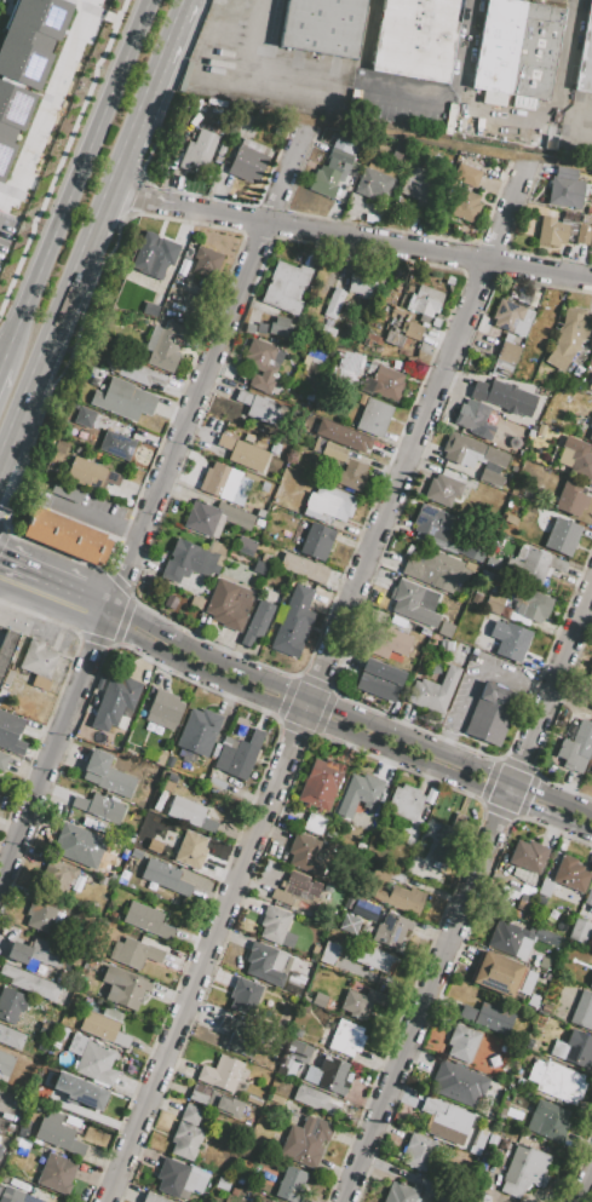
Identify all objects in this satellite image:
parking lot: (553, 1)
building: (322, 27)
road: (139, 29)
building: (30, 36)
building: (397, 36)
building: (436, 39)
road: (465, 44)
building: (495, 50)
building: (535, 51)
road: (255, 54)
building: (585, 54)
street lamp: (98, 67)
parking lot: (265, 82)
road: (361, 82)
road: (44, 102)
parking lot: (400, 109)
road: (571, 110)
building: (12, 114)
road: (548, 114)
parking lot: (498, 121)
parking lot: (575, 125)
parking lot: (53, 133)
building: (539, 138)
street lamp: (58, 140)
building: (197, 149)
road: (62, 154)
building: (395, 156)
building: (248, 160)
building: (331, 169)
building: (466, 176)
building: (374, 183)
road: (151, 185)
building: (420, 185)
building: (565, 189)
road: (110, 195)
road: (131, 195)
road: (142, 203)
building: (466, 206)
road: (269, 207)
road: (65, 212)
building: (569, 218)
building: (586, 219)
street lamp: (35, 224)
road: (377, 226)
building: (551, 230)
building: (582, 235)
road: (257, 236)
road: (383, 245)
road: (492, 246)
road: (507, 246)
building: (154, 255)
building: (206, 261)
road: (477, 275)
building: (358, 282)
building: (284, 287)
road: (217, 298)
building: (425, 301)
building: (333, 304)
building: (150, 309)
building: (511, 317)
building: (483, 324)
building: (277, 327)
building: (413, 330)
building: (326, 333)
building: (568, 337)
building: (163, 346)
building: (506, 353)
building: (259, 363)
building: (349, 363)
road: (1, 369)
road: (207, 372)
building: (142, 374)
building: (387, 383)
building: (590, 385)
building: (502, 396)
building: (122, 399)
building: (261, 409)
building: (476, 413)
building: (84, 416)
building: (373, 418)
road: (16, 429)
building: (540, 430)
building: (591, 436)
building: (343, 437)
building: (116, 445)
building: (470, 449)
building: (333, 452)
building: (243, 453)
road: (27, 455)
building: (576, 459)
building: (466, 471)
building: (84, 475)
building: (351, 475)
building: (490, 478)
building: (224, 483)
building: (442, 489)
building: (570, 499)
parking lot: (81, 505)
building: (328, 505)
road: (97, 510)
building: (215, 518)
road: (0, 522)
building: (432, 522)
road: (4, 529)
road: (123, 529)
building: (67, 536)
building: (561, 537)
road: (2, 541)
building: (317, 542)
building: (192, 560)
building: (535, 565)
building: (303, 568)
building: (436, 570)
road: (40, 587)
building: (413, 602)
building: (229, 604)
building: (493, 604)
building: (536, 606)
road: (94, 610)
road: (324, 617)
road: (122, 619)
road: (46, 620)
building: (291, 622)
building: (257, 625)
road: (350, 629)
building: (444, 629)
building: (508, 639)
building: (387, 642)
building: (6, 648)
building: (38, 658)
road: (476, 677)
building: (590, 677)
building: (374, 680)
road: (317, 683)
road: (205, 684)
parking lot: (518, 688)
building: (432, 691)
building: (115, 703)
building: (163, 709)
building: (489, 713)
road: (349, 715)
road: (548, 724)
building: (199, 731)
building: (10, 732)
road: (312, 734)
road: (345, 735)
building: (576, 747)
road: (54, 750)
building: (237, 754)
building: (2, 760)
road: (396, 764)
building: (591, 773)
building: (107, 775)
building: (169, 782)
building: (214, 783)
building: (321, 783)
building: (358, 794)
building: (404, 803)
building: (99, 807)
building: (185, 811)
road: (517, 817)
road: (539, 823)
building: (442, 844)
building: (79, 845)
building: (304, 846)
building: (190, 850)
building: (528, 856)
building: (380, 874)
building: (570, 874)
building: (57, 875)
building: (165, 876)
building: (525, 878)
building: (545, 888)
building: (294, 891)
road: (467, 896)
building: (401, 898)
building: (591, 905)
building: (41, 914)
building: (146, 920)
building: (272, 924)
building: (391, 931)
building: (579, 931)
building: (540, 934)
building: (506, 937)
building: (134, 953)
building: (329, 954)
building: (38, 957)
building: (377, 961)
building: (268, 964)
building: (498, 974)
building: (30, 982)
building: (591, 984)
building: (123, 987)
building: (245, 995)
building: (318, 1000)
building: (361, 1001)
building: (11, 1005)
building: (582, 1011)
building: (488, 1017)
building: (104, 1026)
building: (45, 1030)
building: (62, 1033)
building: (237, 1035)
building: (11, 1037)
building: (346, 1039)
building: (461, 1043)
building: (573, 1048)
building: (298, 1051)
building: (5, 1063)
building: (97, 1064)
building: (223, 1074)
building: (328, 1075)
building: (557, 1081)
building: (459, 1083)
building: (287, 1089)
building: (79, 1091)
building: (276, 1099)
building: (314, 1099)
building: (214, 1100)
building: (253, 1100)
parking lot: (8, 1108)
building: (446, 1120)
building: (546, 1121)
building: (57, 1133)
building: (186, 1133)
building: (306, 1141)
building: (418, 1151)
building: (524, 1171)
building: (56, 1173)
building: (178, 1179)
building: (292, 1185)
road: (586, 1189)
building: (401, 1192)
building: (16, 1196)
building: (153, 1198)
building: (270, 1201)

